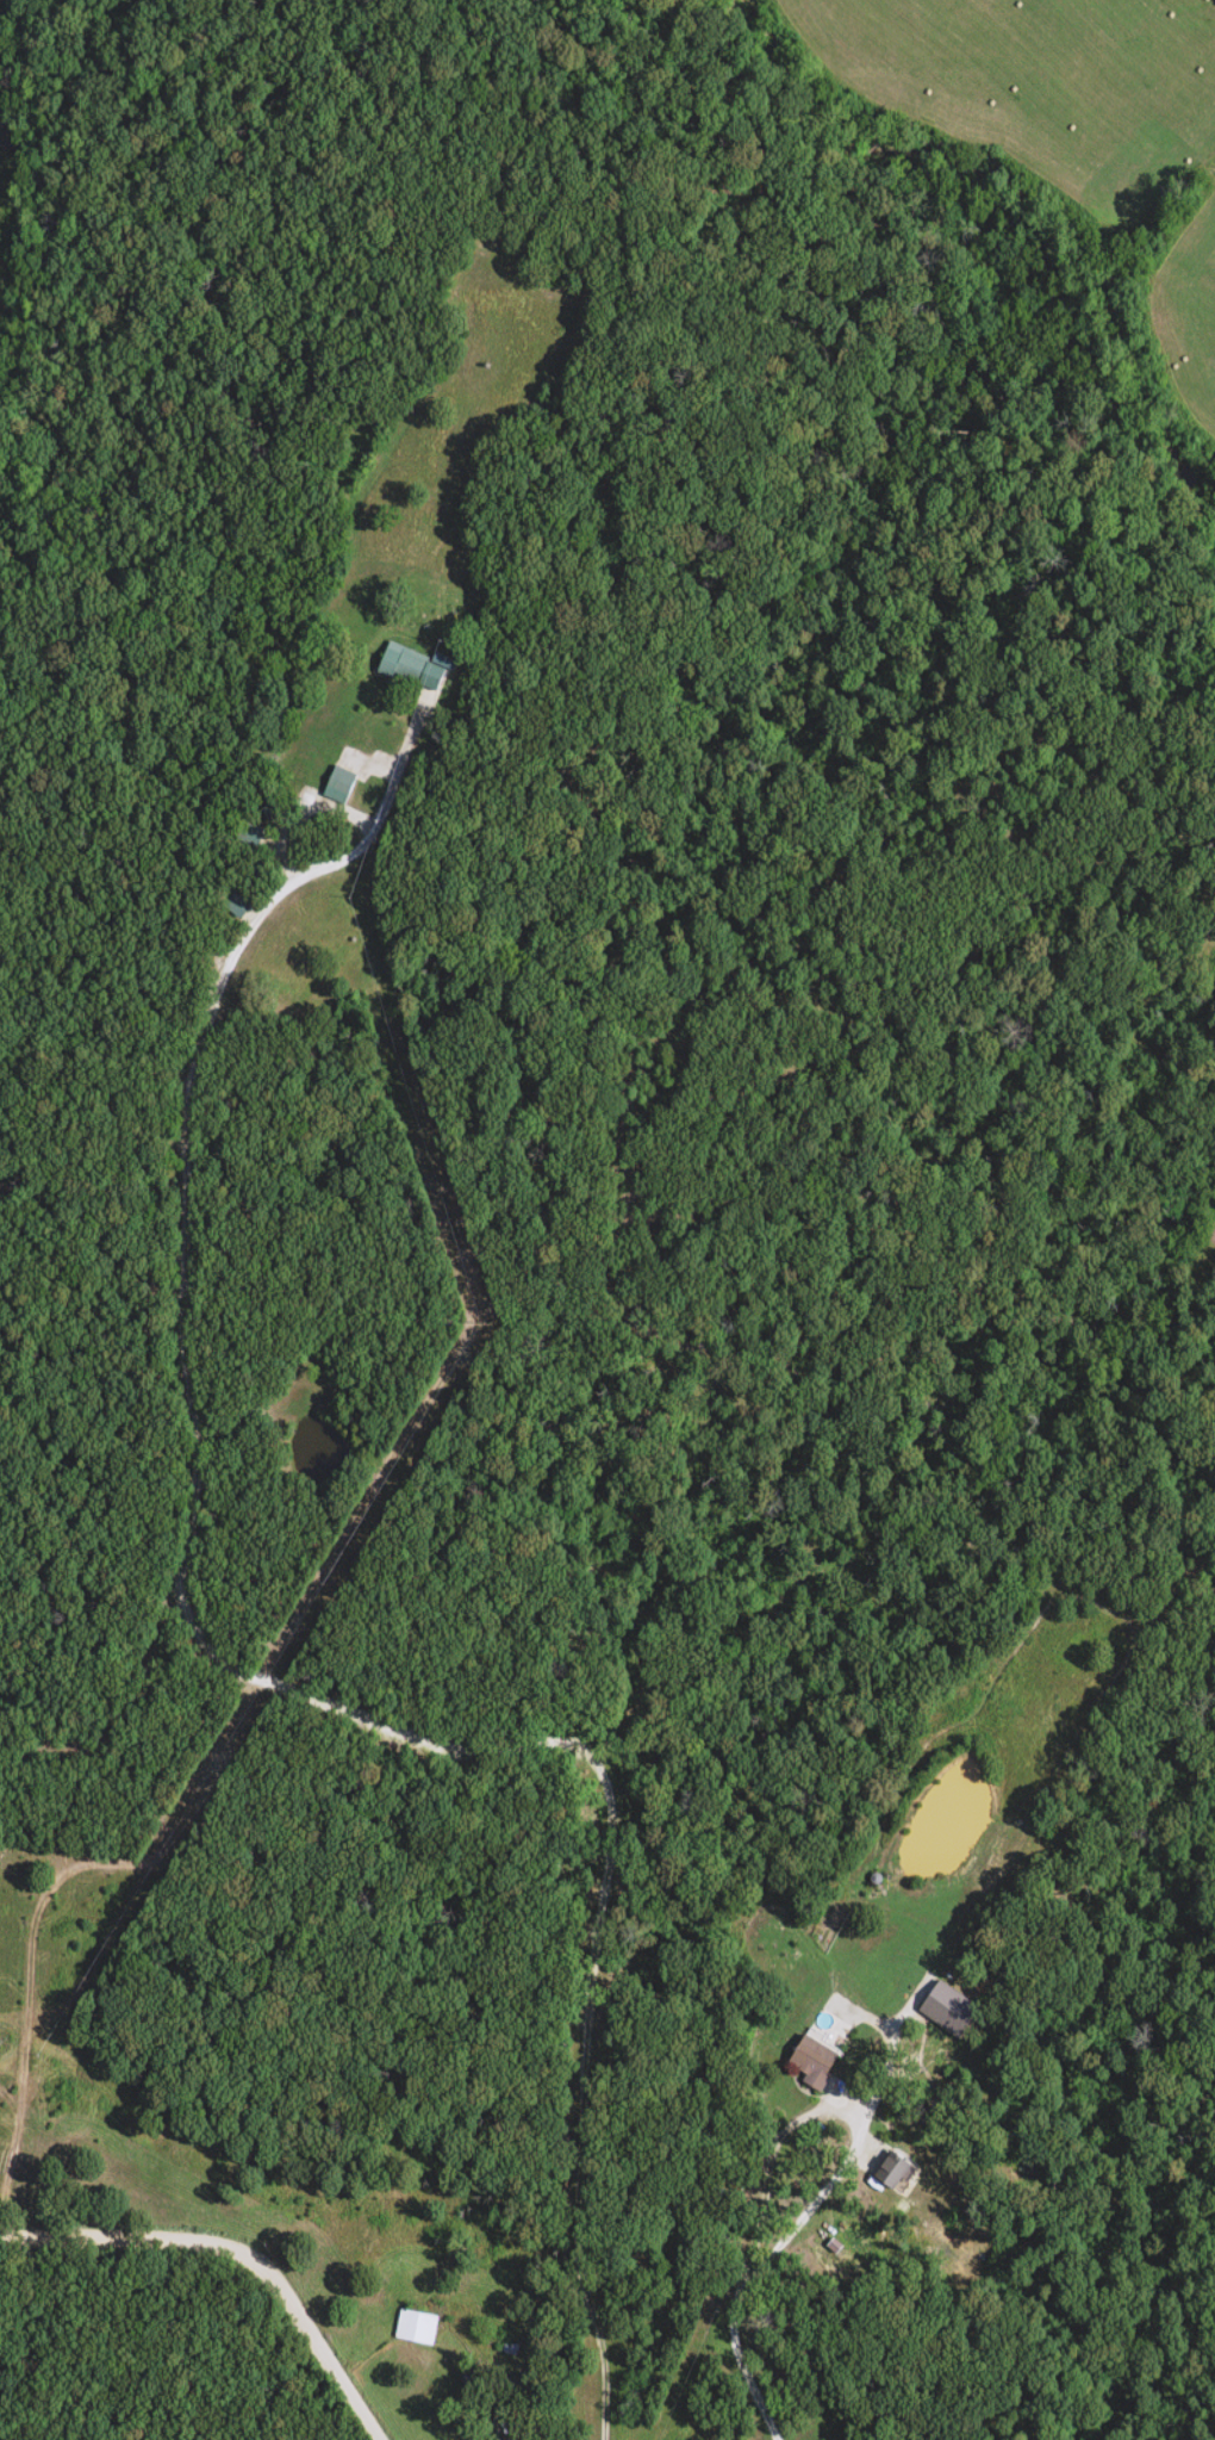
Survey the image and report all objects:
building: (405, 669)
building: (338, 781)
road: (238, 1670)
building: (809, 2061)
road: (830, 2112)
road: (236, 2250)
building: (412, 2328)
road: (734, 2365)

